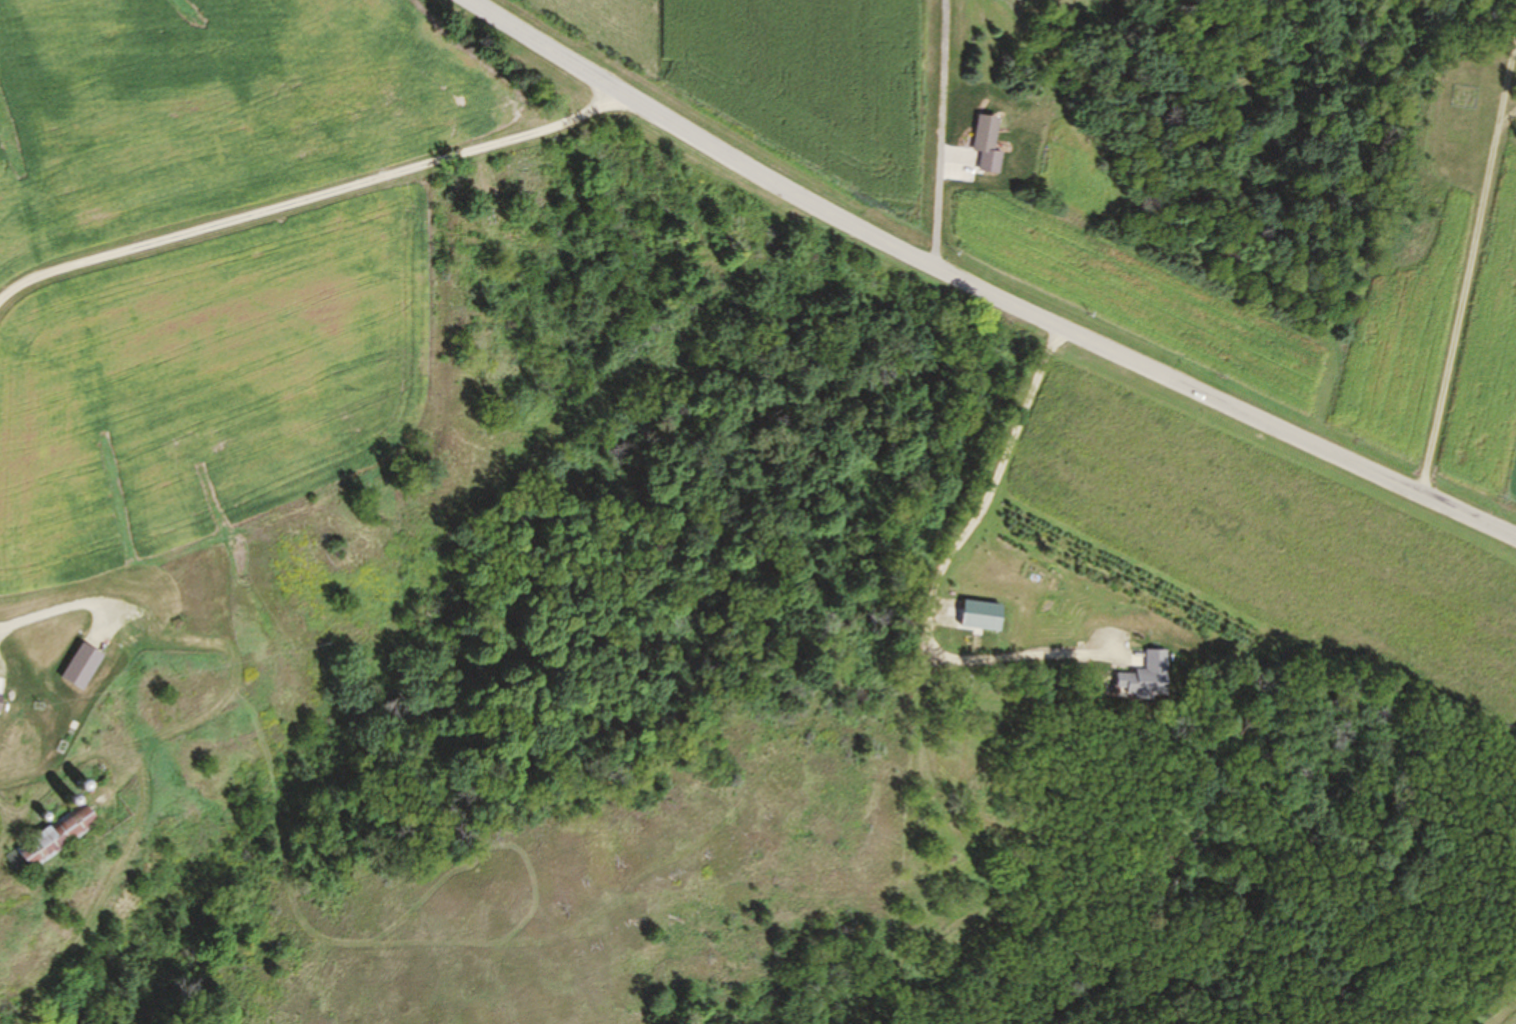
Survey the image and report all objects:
road: (913, 127)
road: (314, 229)
road: (1453, 245)
road: (981, 289)
building: (975, 616)
building: (50, 837)

